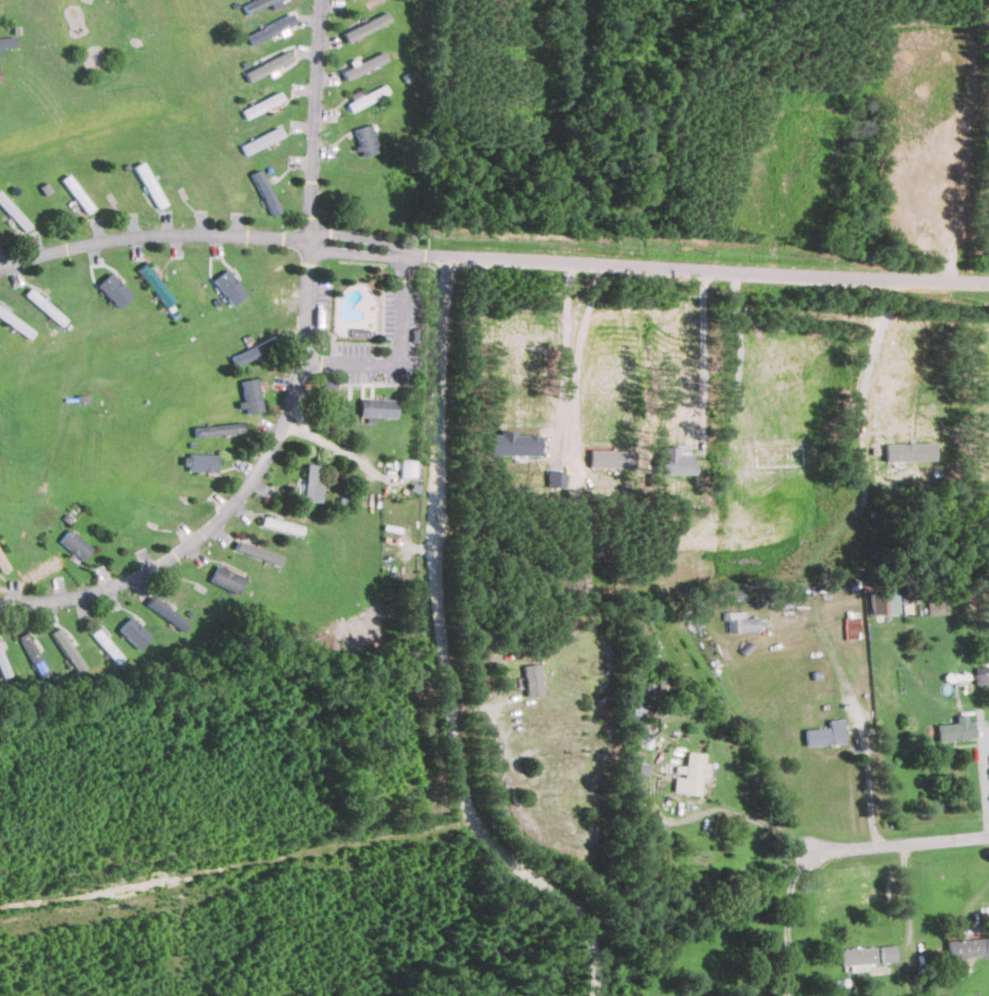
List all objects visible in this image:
building: (258, 4)
building: (366, 26)
building: (7, 41)
building: (267, 65)
building: (363, 65)
building: (365, 96)
building: (261, 104)
building: (261, 140)
building: (366, 140)
building: (265, 191)
building: (76, 193)
building: (13, 213)
road: (490, 261)
building: (155, 284)
building: (228, 286)
building: (113, 290)
building: (44, 306)
building: (15, 323)
building: (254, 350)
road: (699, 355)
road: (382, 361)
road: (576, 361)
road: (741, 363)
road: (294, 391)
building: (250, 395)
building: (377, 408)
building: (218, 429)
building: (203, 462)
building: (406, 468)
building: (311, 483)
building: (282, 526)
building: (75, 544)
building: (258, 552)
road: (814, 558)
building: (226, 579)
building: (876, 602)
building: (934, 606)
building: (738, 621)
building: (852, 625)
building: (133, 632)
building: (106, 645)
building: (67, 649)
building: (33, 655)
road: (443, 655)
building: (2, 666)
building: (980, 675)
building: (530, 680)
building: (954, 729)
building: (824, 734)
building: (690, 775)
road: (982, 782)
road: (893, 843)
road: (906, 897)
road: (967, 905)
road: (787, 923)
building: (966, 947)
building: (889, 954)
building: (856, 956)

